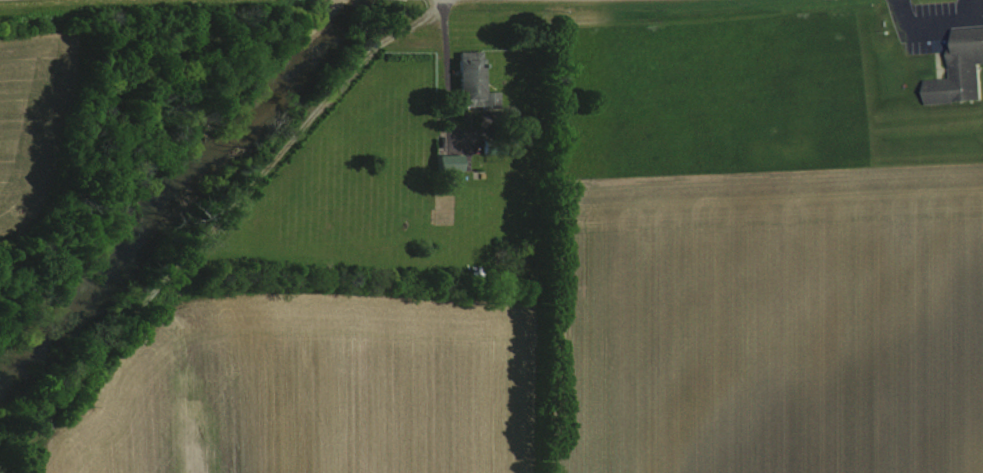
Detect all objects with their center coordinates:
road: (442, 61)
building: (959, 71)
building: (469, 81)
building: (449, 162)
road: (207, 224)

